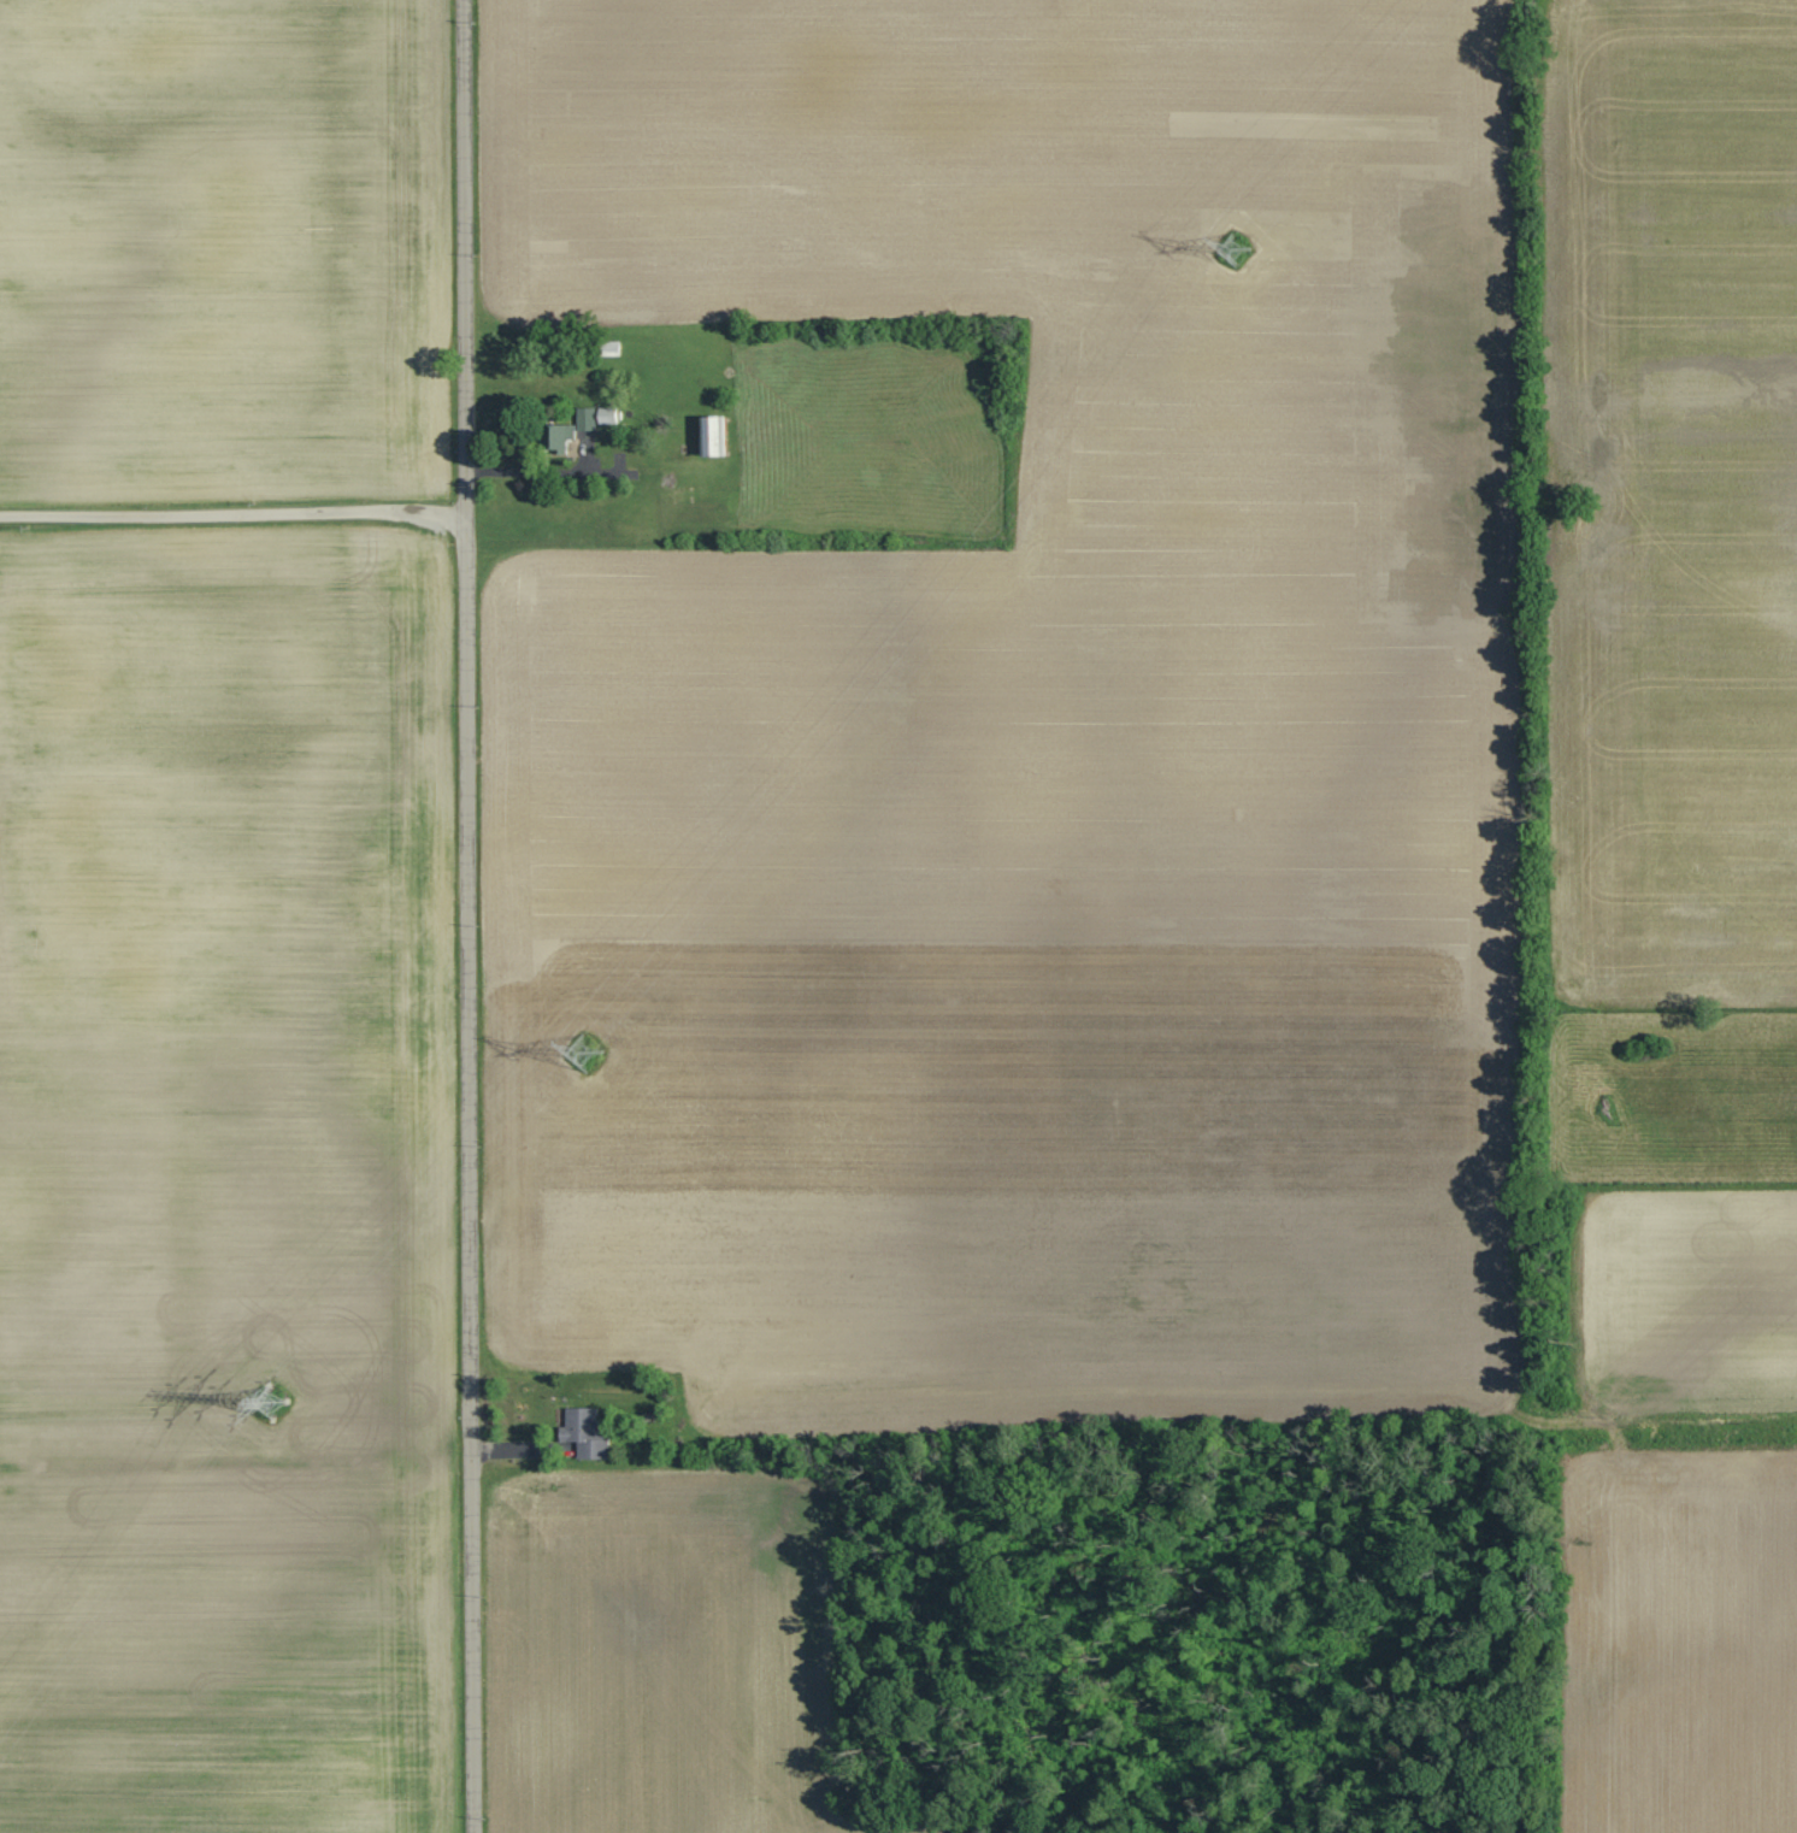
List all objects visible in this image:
power tower: (1229, 248)
building: (587, 419)
building: (714, 435)
building: (559, 437)
road: (232, 511)
road: (469, 915)
power tower: (584, 1054)
power tower: (270, 1404)
building: (587, 1433)

